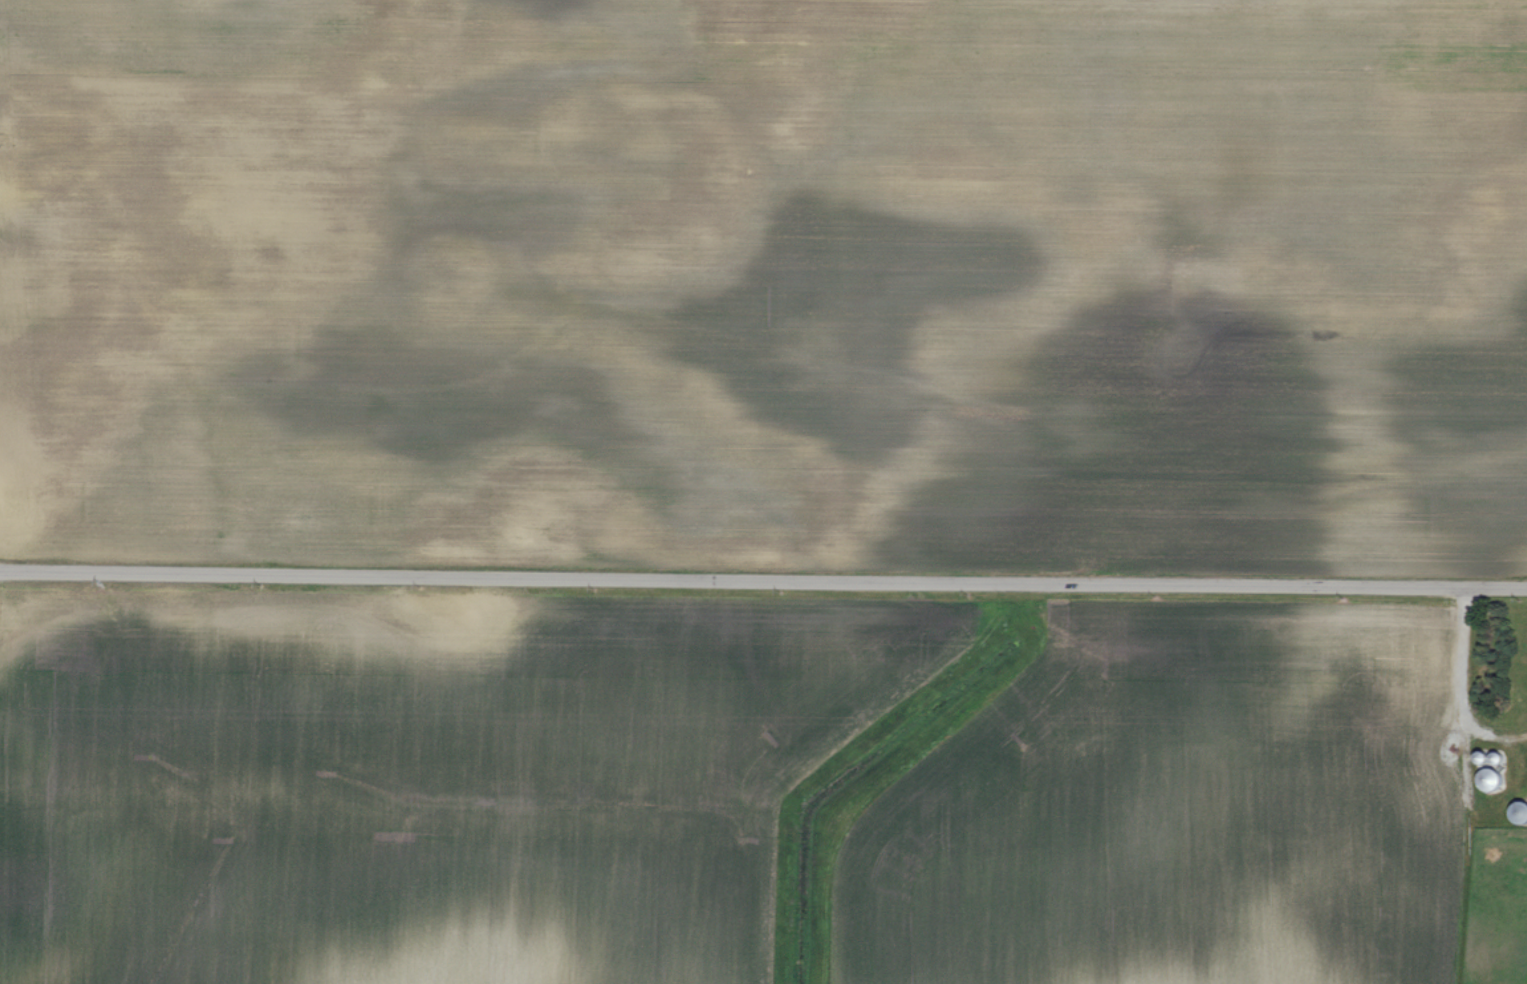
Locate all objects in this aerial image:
road: (763, 577)

